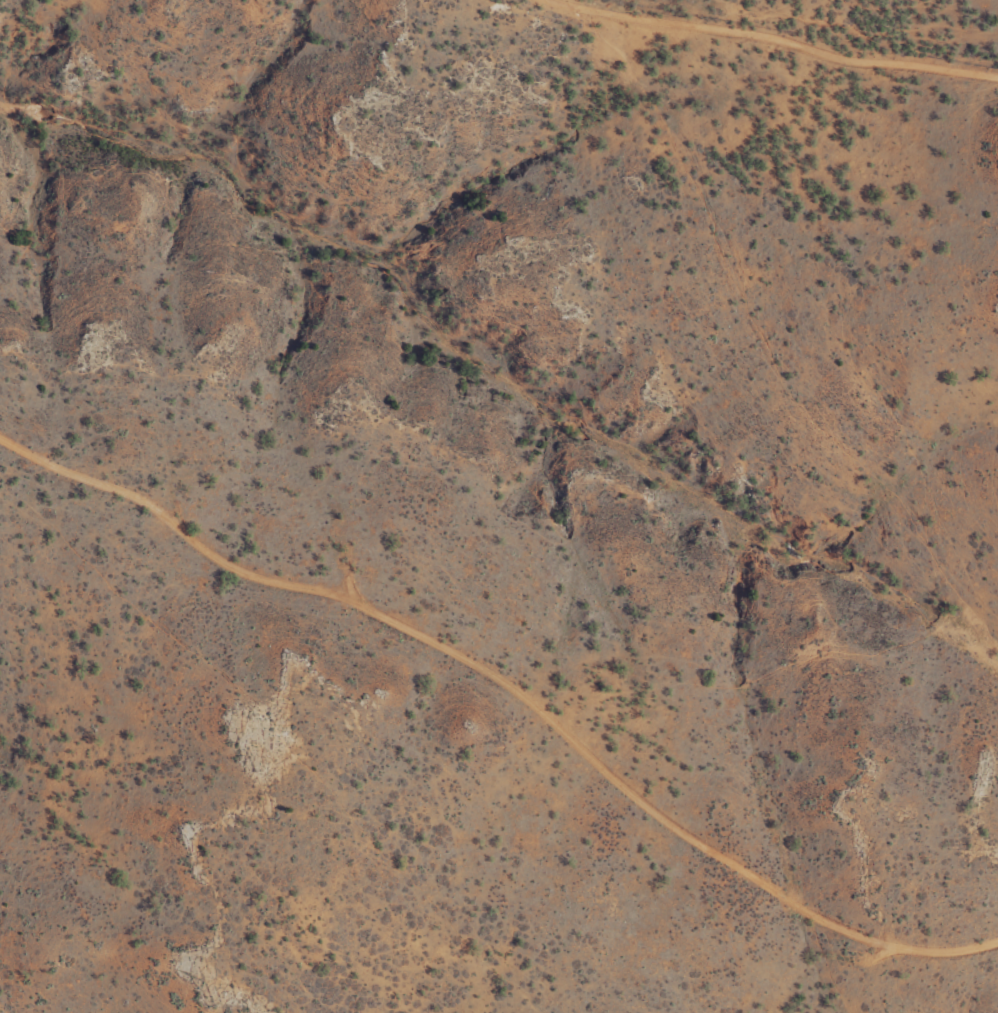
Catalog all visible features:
road: (779, 45)
road: (505, 693)

